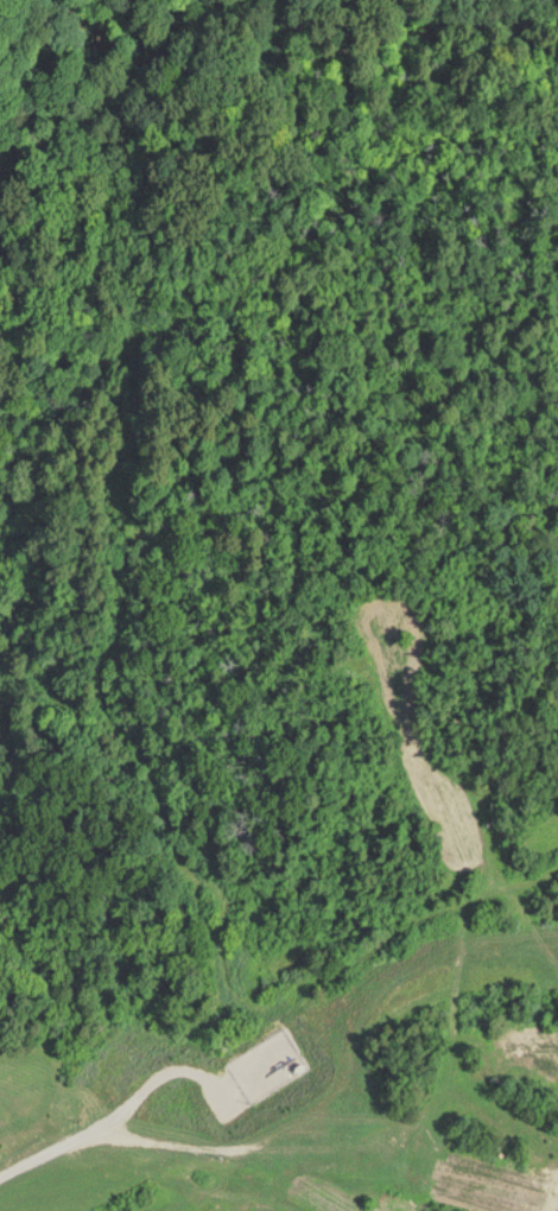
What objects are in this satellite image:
road: (103, 1126)
power tower: (213, 1210)

